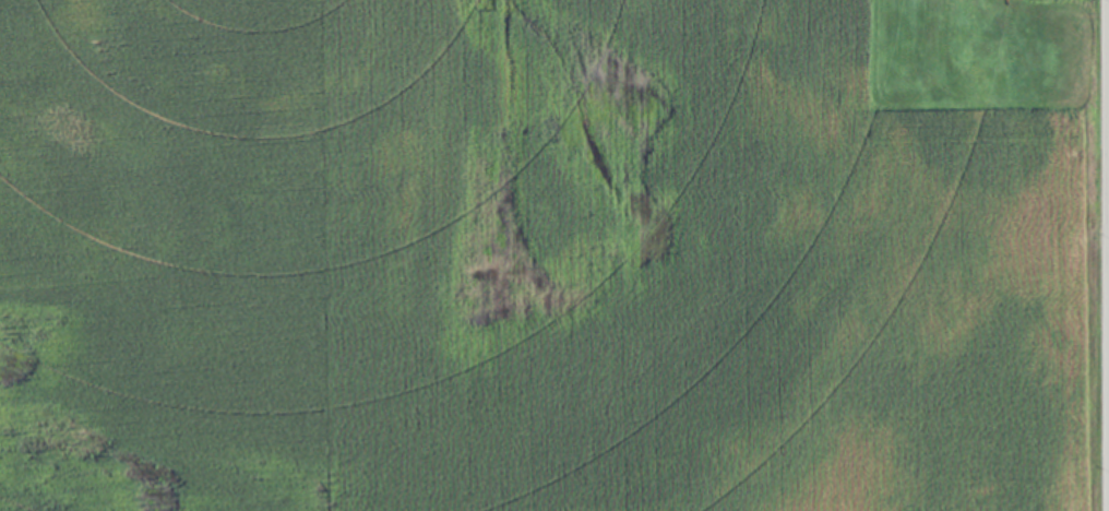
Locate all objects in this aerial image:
road: (1107, 144)

